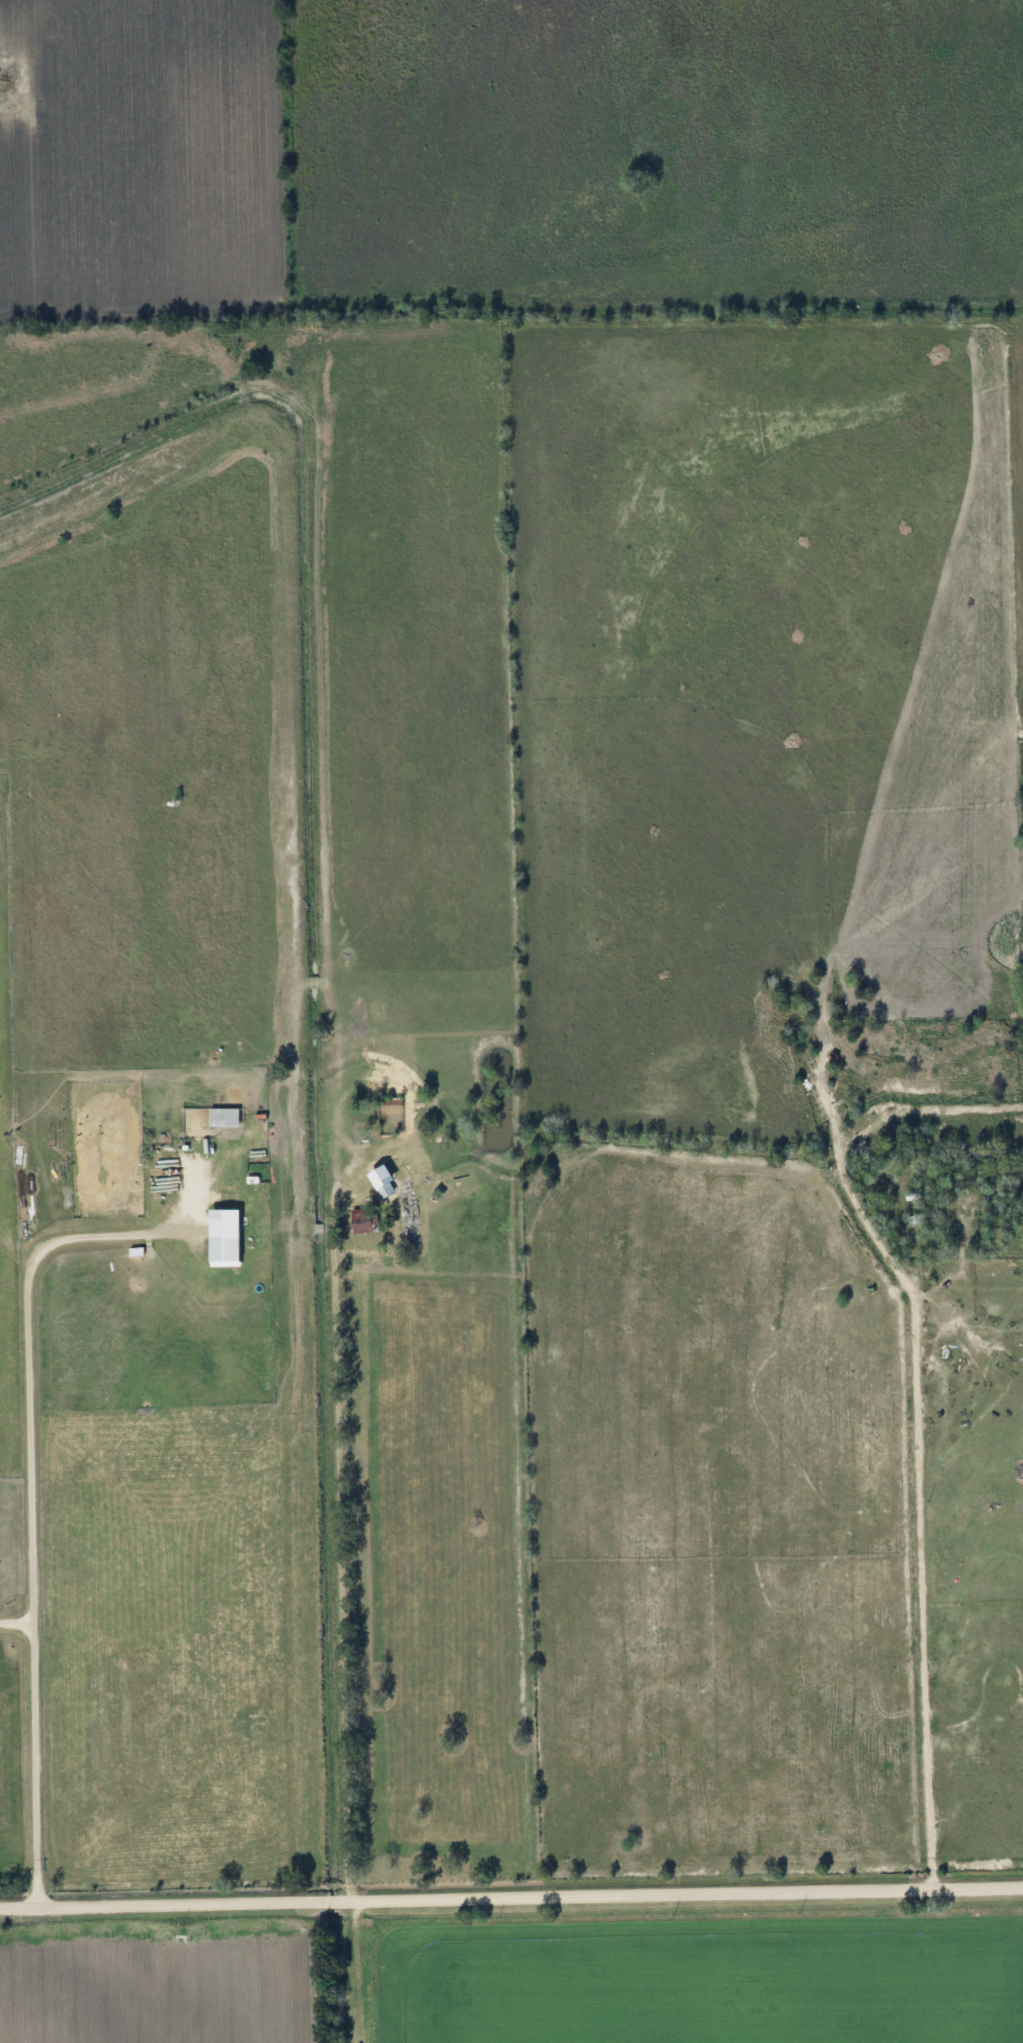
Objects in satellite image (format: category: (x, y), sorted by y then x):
building: (356, 1222)
road: (28, 1495)
road: (340, 1577)
road: (511, 1899)

